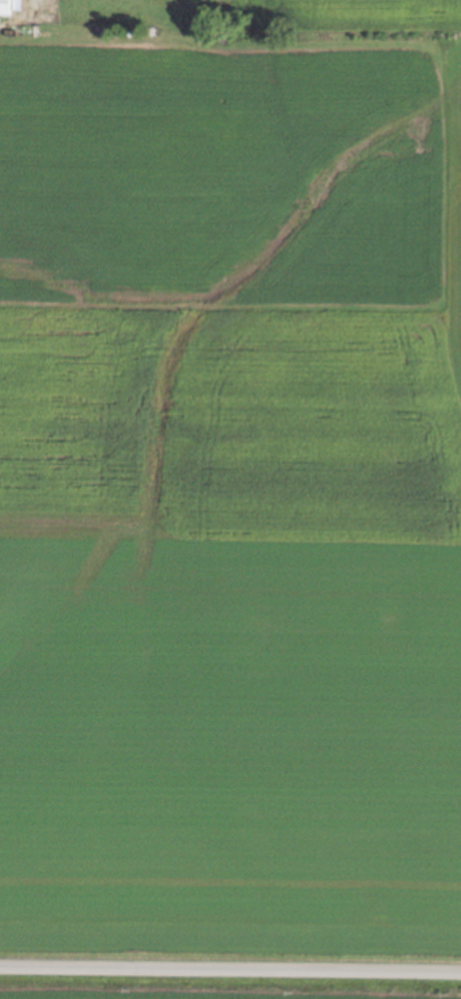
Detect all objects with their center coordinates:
building: (4, 7)
road: (230, 965)

